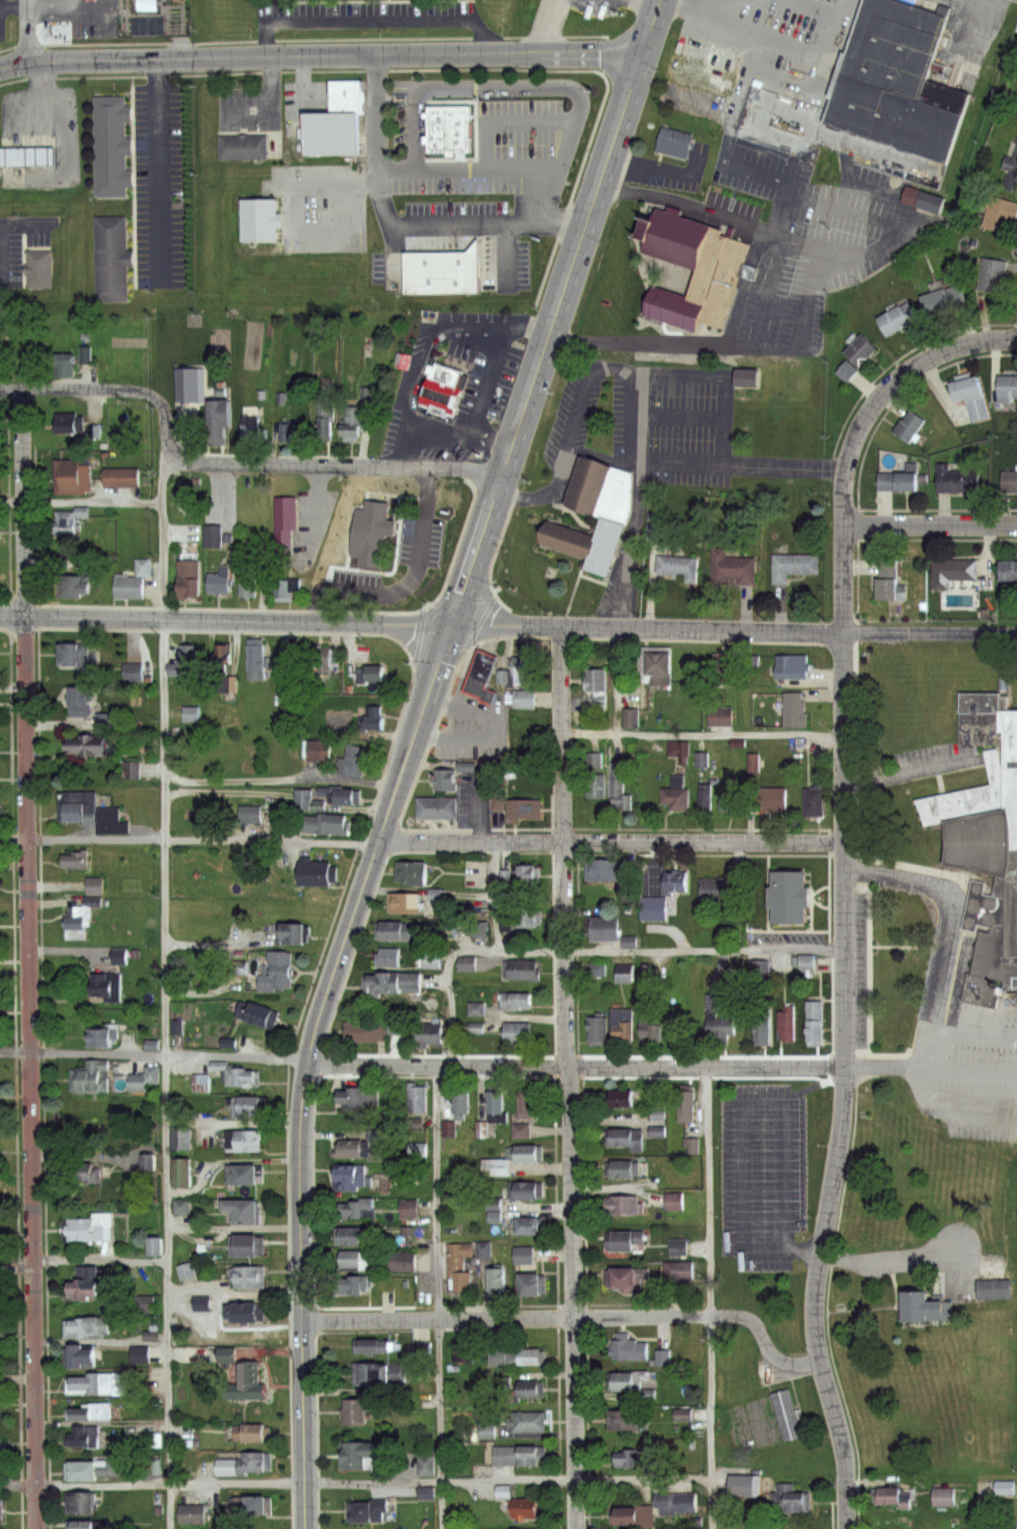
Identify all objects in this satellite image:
road: (14, 2)
road: (51, 2)
road: (655, 2)
road: (372, 20)
road: (544, 27)
road: (28, 30)
building: (52, 32)
building: (1016, 42)
road: (749, 47)
road: (321, 55)
road: (157, 73)
building: (695, 74)
building: (896, 84)
building: (448, 124)
building: (331, 127)
building: (111, 142)
building: (673, 142)
building: (243, 143)
building: (26, 145)
road: (658, 163)
road: (734, 164)
road: (473, 167)
building: (1011, 174)
road: (158, 181)
parking lot: (159, 185)
building: (914, 196)
building: (933, 202)
road: (780, 209)
building: (999, 213)
building: (260, 214)
road: (405, 220)
building: (670, 232)
parking lot: (806, 240)
building: (112, 254)
building: (441, 259)
building: (40, 262)
building: (993, 275)
building: (715, 277)
road: (767, 298)
building: (944, 300)
building: (671, 309)
road: (557, 314)
building: (898, 318)
building: (861, 350)
building: (83, 355)
road: (493, 357)
building: (66, 364)
road: (673, 371)
building: (190, 378)
building: (749, 378)
building: (1009, 386)
building: (968, 388)
road: (79, 390)
road: (886, 391)
building: (441, 394)
building: (220, 409)
parking lot: (648, 418)
building: (353, 420)
building: (70, 422)
building: (287, 423)
building: (324, 423)
building: (252, 424)
building: (911, 426)
road: (168, 427)
building: (92, 432)
road: (422, 432)
building: (285, 433)
road: (490, 441)
road: (336, 467)
building: (73, 477)
building: (121, 478)
building: (903, 479)
building: (1010, 480)
building: (957, 481)
road: (12, 496)
road: (92, 499)
building: (593, 513)
building: (285, 516)
building: (374, 523)
building: (64, 524)
road: (930, 525)
building: (217, 528)
road: (332, 544)
building: (796, 566)
building: (684, 569)
building: (734, 569)
building: (954, 571)
building: (187, 572)
building: (1009, 572)
building: (217, 573)
building: (247, 573)
building: (892, 579)
building: (133, 580)
building: (283, 581)
building: (73, 585)
road: (222, 620)
traffic signals: (444, 626)
road: (643, 627)
road: (930, 631)
building: (224, 652)
building: (191, 654)
building: (77, 655)
building: (326, 657)
building: (259, 658)
building: (793, 663)
building: (719, 667)
building: (731, 667)
building: (660, 668)
building: (525, 670)
building: (129, 672)
building: (377, 673)
road: (430, 675)
building: (482, 675)
building: (596, 680)
building: (520, 699)
building: (79, 700)
building: (794, 709)
building: (188, 714)
building: (720, 714)
building: (630, 717)
building: (375, 719)
building: (101, 721)
road: (701, 730)
building: (87, 745)
building: (679, 750)
building: (321, 752)
building: (591, 759)
building: (698, 759)
building: (354, 760)
building: (749, 763)
building: (129, 771)
building: (446, 780)
building: (595, 787)
building: (619, 787)
building: (346, 795)
building: (772, 798)
building: (677, 799)
building: (816, 802)
building: (439, 809)
building: (526, 810)
building: (93, 812)
building: (251, 814)
building: (326, 823)
road: (191, 840)
road: (612, 843)
building: (985, 855)
building: (79, 859)
building: (603, 870)
building: (319, 874)
building: (525, 874)
building: (416, 875)
building: (677, 882)
building: (97, 885)
building: (722, 889)
building: (434, 895)
building: (792, 898)
building: (406, 904)
building: (654, 910)
road: (952, 915)
building: (77, 918)
building: (518, 919)
building: (606, 930)
building: (395, 933)
building: (292, 934)
road: (704, 948)
road: (453, 953)
building: (389, 958)
road: (28, 959)
building: (433, 960)
building: (808, 963)
building: (468, 964)
building: (599, 969)
building: (761, 971)
building: (278, 973)
building: (528, 973)
building: (626, 975)
building: (412, 983)
building: (383, 986)
building: (108, 987)
road: (167, 992)
building: (517, 1002)
building: (477, 1010)
building: (257, 1015)
building: (720, 1021)
building: (815, 1023)
building: (622, 1025)
building: (787, 1025)
building: (764, 1027)
building: (472, 1030)
road: (844, 1030)
building: (598, 1031)
building: (653, 1032)
building: (368, 1034)
building: (520, 1034)
building: (430, 1035)
building: (103, 1036)
road: (154, 1055)
road: (576, 1066)
road: (884, 1068)
road: (970, 1073)
building: (238, 1074)
road: (923, 1074)
building: (93, 1077)
road: (569, 1077)
building: (147, 1079)
building: (360, 1098)
building: (418, 1100)
building: (622, 1100)
building: (463, 1103)
building: (529, 1104)
building: (249, 1106)
building: (497, 1108)
building: (688, 1108)
building: (654, 1115)
road: (302, 1118)
building: (521, 1130)
building: (653, 1131)
building: (183, 1136)
building: (245, 1139)
building: (627, 1139)
building: (362, 1149)
building: (415, 1151)
building: (528, 1154)
building: (497, 1168)
building: (622, 1169)
building: (183, 1170)
building: (245, 1172)
building: (89, 1173)
building: (354, 1175)
parking lot: (762, 1177)
building: (526, 1189)
building: (670, 1201)
building: (625, 1203)
building: (360, 1207)
building: (410, 1207)
building: (247, 1209)
building: (490, 1210)
building: (529, 1223)
building: (92, 1231)
building: (353, 1234)
building: (625, 1238)
building: (250, 1243)
road: (741, 1245)
building: (678, 1246)
building: (152, 1247)
building: (481, 1250)
road: (803, 1253)
building: (524, 1254)
road: (884, 1256)
road: (101, 1258)
building: (352, 1258)
building: (404, 1261)
building: (461, 1264)
road: (16, 1268)
building: (679, 1270)
building: (251, 1275)
building: (628, 1276)
building: (497, 1280)
building: (89, 1282)
building: (533, 1282)
building: (353, 1284)
building: (997, 1288)
road: (440, 1297)
road: (708, 1297)
building: (138, 1304)
building: (923, 1304)
building: (201, 1305)
building: (248, 1311)
road: (571, 1317)
building: (90, 1326)
building: (374, 1345)
building: (629, 1347)
building: (423, 1350)
building: (464, 1350)
building: (79, 1354)
building: (137, 1354)
building: (517, 1355)
building: (380, 1370)
building: (626, 1380)
building: (251, 1381)
building: (95, 1383)
building: (531, 1387)
building: (358, 1410)
building: (90, 1413)
building: (786, 1414)
building: (625, 1418)
building: (529, 1420)
building: (252, 1432)
building: (88, 1437)
building: (1, 1451)
building: (359, 1451)
building: (520, 1454)
building: (634, 1457)
building: (245, 1462)
building: (427, 1465)
building: (93, 1468)
road: (355, 1482)
building: (744, 1484)
building: (1001, 1488)
building: (499, 1491)
building: (894, 1496)
building: (794, 1497)
building: (946, 1497)
building: (81, 1500)
building: (1, 1501)
building: (676, 1502)
building: (250, 1505)
road: (981, 1506)
building: (524, 1508)
building: (373, 1510)
building: (193, 1514)
building: (625, 1516)
building: (86, 1524)
building: (523, 1528)

